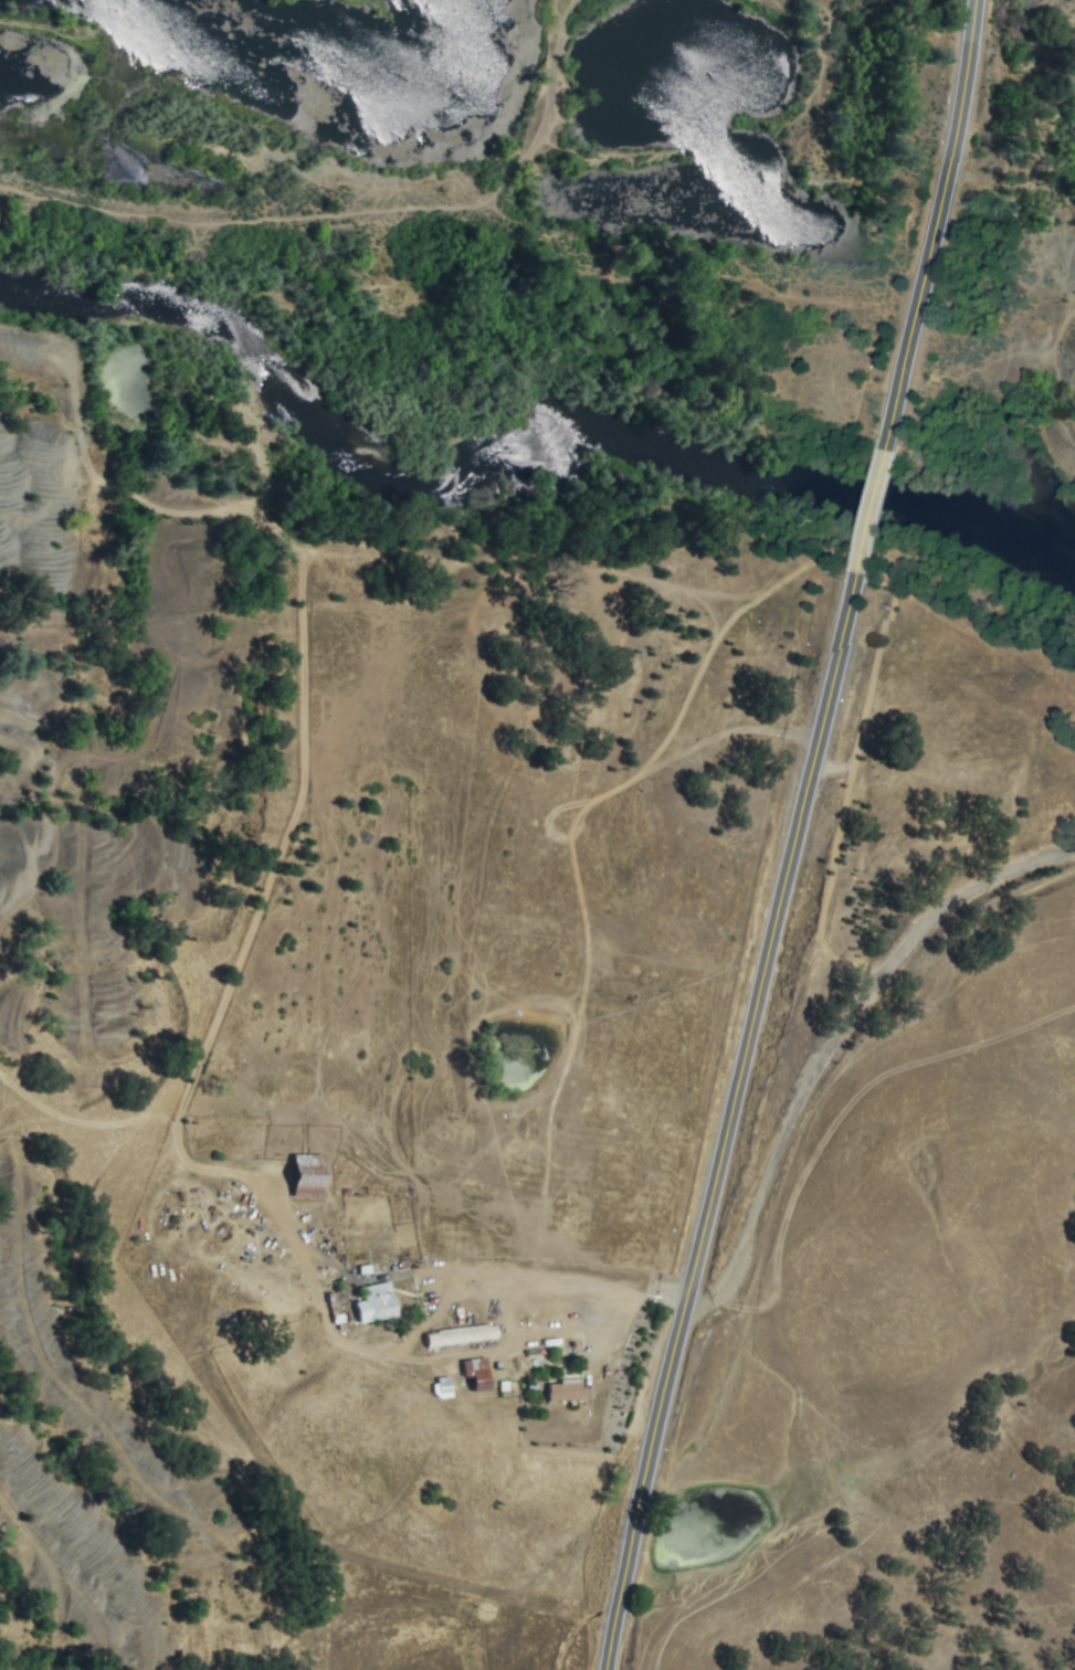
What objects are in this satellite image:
river: (85, 211)
road: (938, 221)
river: (613, 427)
road: (867, 511)
road: (833, 1051)
road: (729, 1127)
building: (308, 1176)
road: (570, 1290)
building: (377, 1302)
building: (461, 1335)
building: (478, 1375)
building: (565, 1392)

